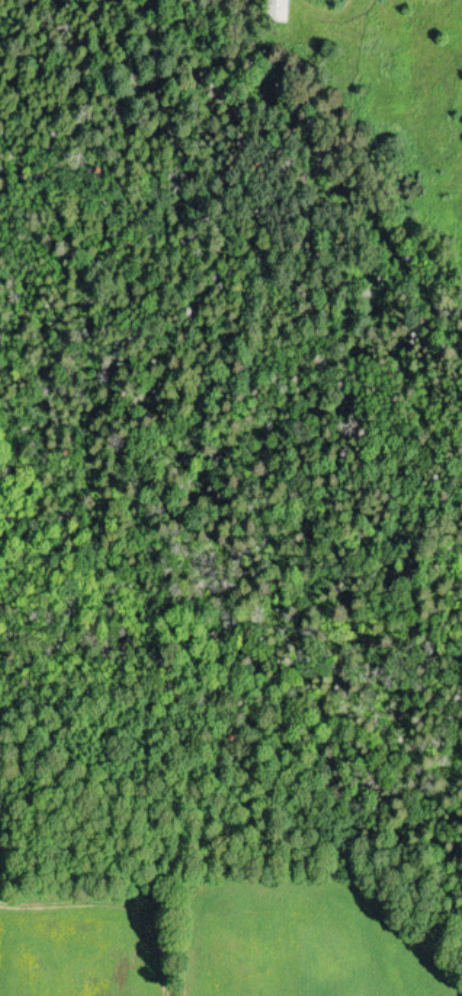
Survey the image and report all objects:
building: (275, 11)

